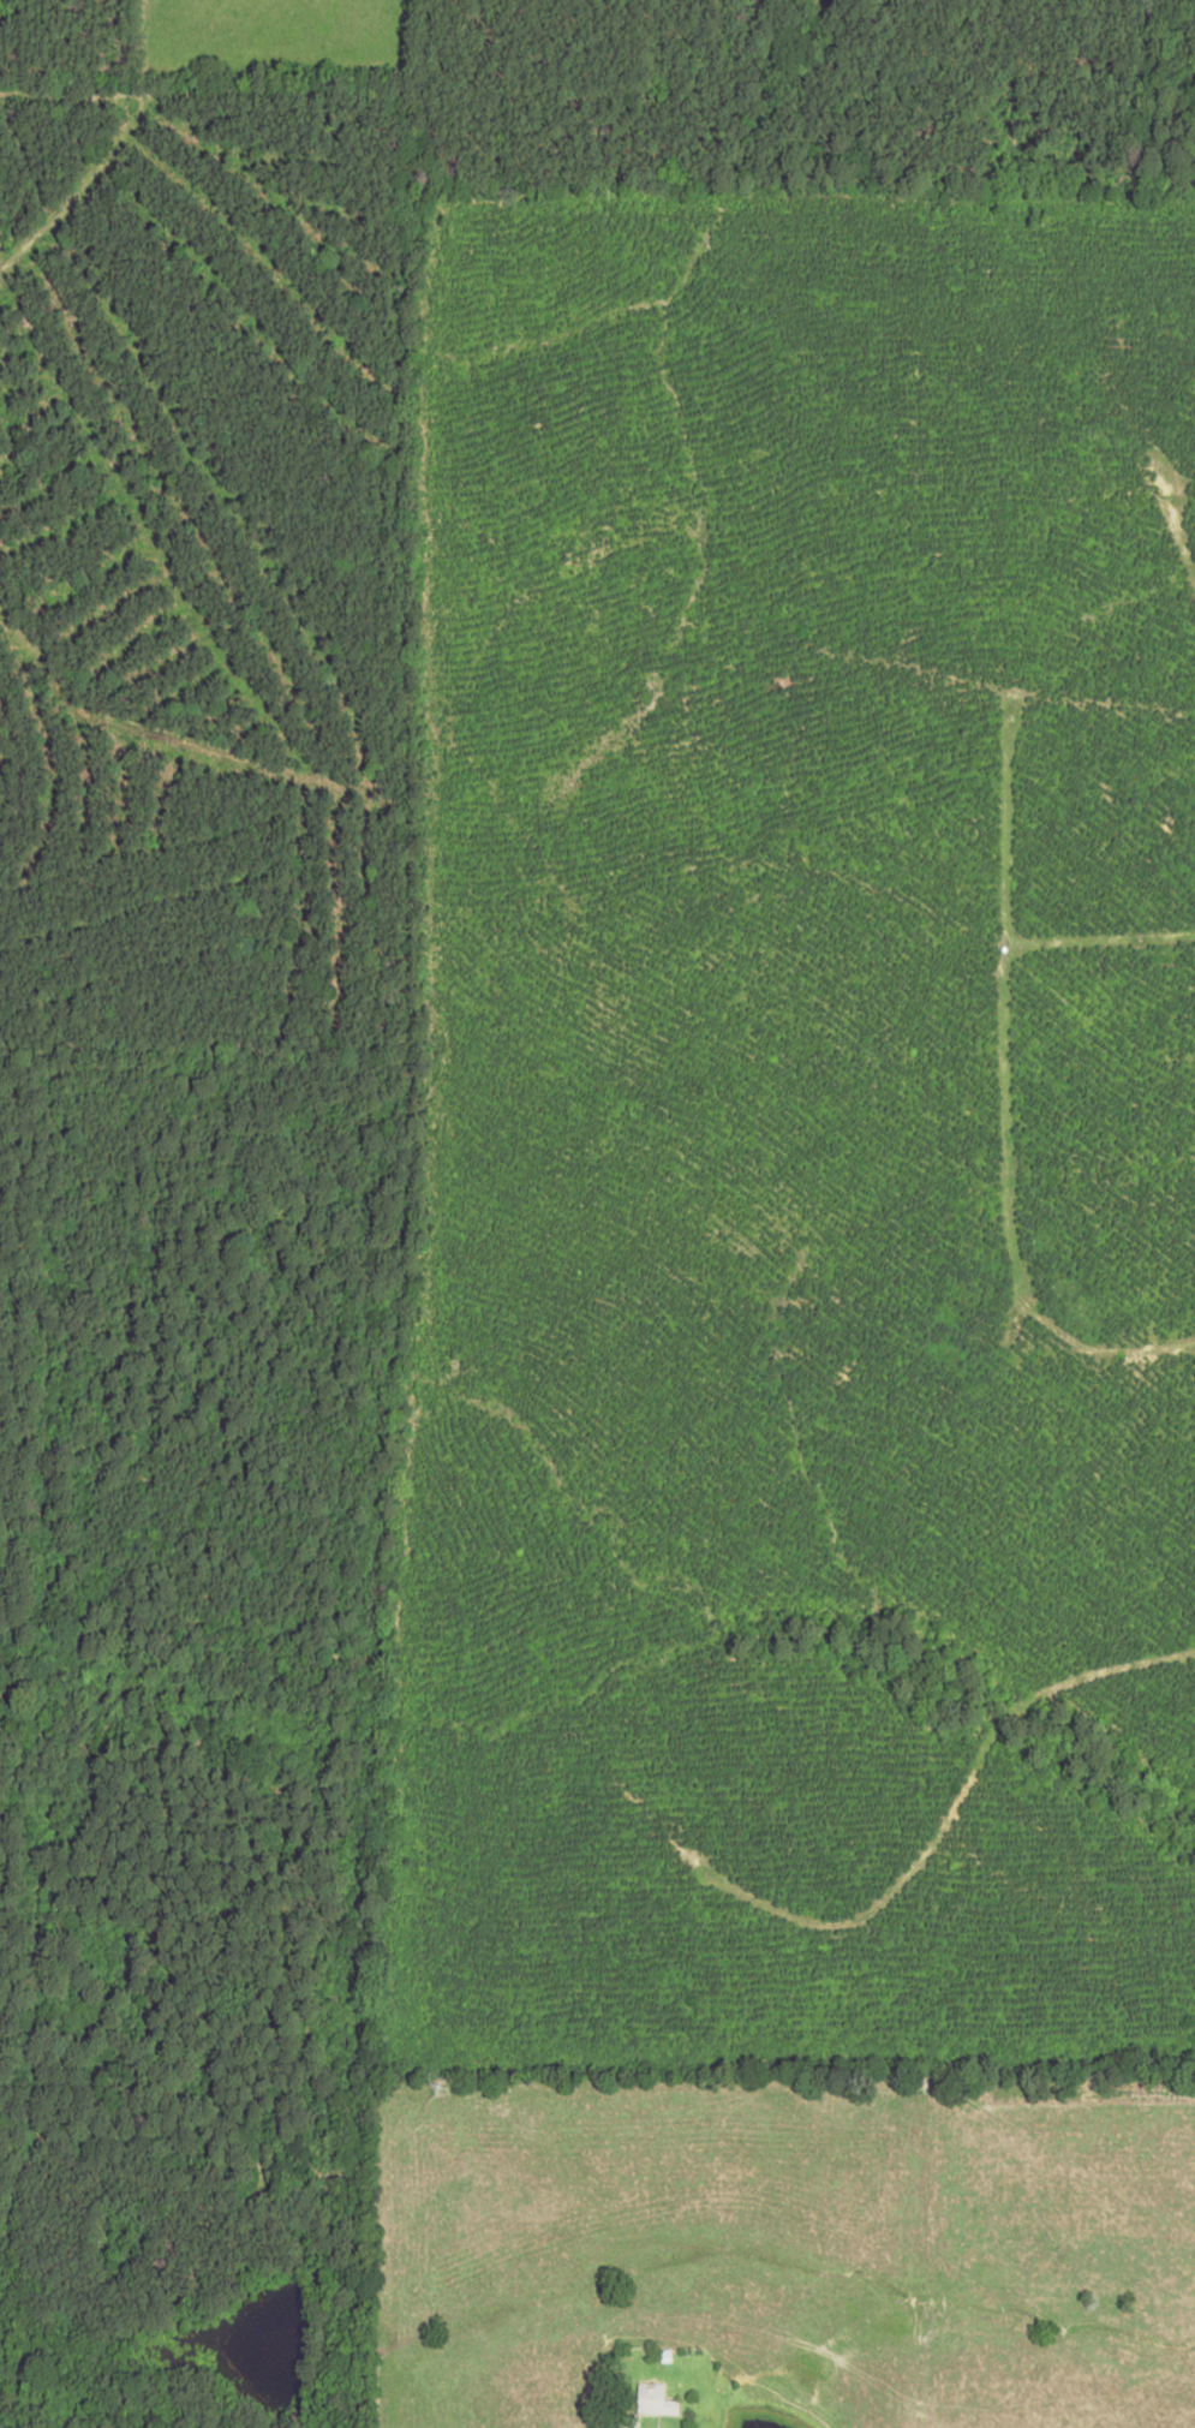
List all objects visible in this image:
building: (655, 2400)
road: (640, 2423)

